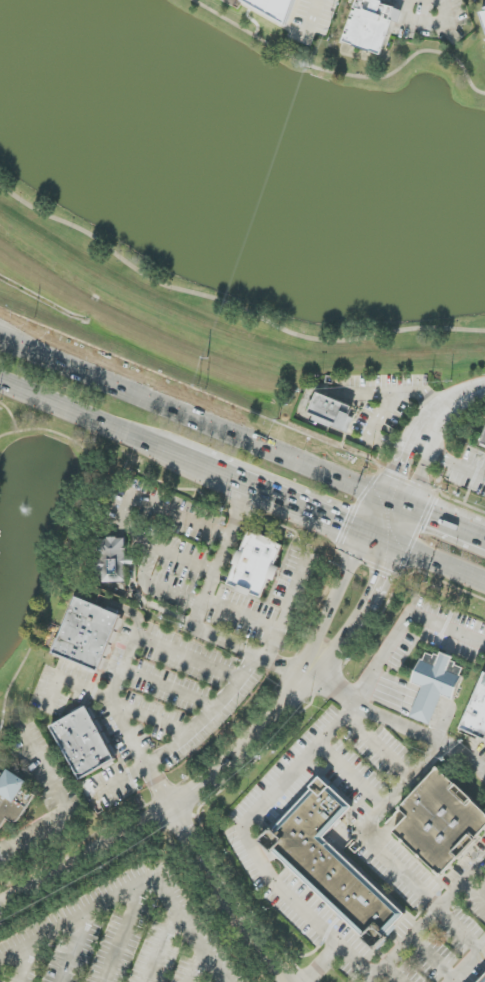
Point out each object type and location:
building: (274, 7)
road: (315, 12)
building: (483, 14)
road: (431, 21)
building: (371, 24)
road: (345, 74)
road: (230, 303)
road: (457, 395)
road: (386, 407)
building: (332, 412)
road: (192, 415)
road: (83, 418)
building: (483, 440)
road: (421, 447)
road: (405, 452)
road: (427, 462)
road: (458, 463)
road: (202, 468)
traffic signals: (397, 470)
road: (396, 501)
road: (302, 507)
road: (170, 510)
fountain: (25, 515)
road: (375, 515)
traffic signals: (435, 518)
traffic signals: (338, 522)
road: (446, 522)
road: (379, 539)
building: (113, 560)
road: (150, 562)
building: (257, 564)
road: (438, 564)
road: (384, 565)
traffic signals: (381, 575)
road: (292, 592)
road: (334, 601)
road: (201, 614)
road: (258, 620)
road: (406, 621)
building: (88, 635)
road: (156, 646)
road: (337, 650)
building: (435, 684)
road: (168, 689)
building: (476, 713)
road: (398, 722)
road: (127, 734)
road: (185, 736)
building: (83, 743)
road: (379, 745)
road: (410, 773)
building: (13, 797)
road: (64, 807)
road: (173, 814)
building: (441, 821)
road: (366, 825)
road: (250, 842)
building: (332, 864)
road: (133, 889)
road: (473, 892)
road: (230, 902)
road: (413, 932)
road: (118, 935)
road: (157, 940)
road: (477, 942)
road: (74, 948)
road: (433, 956)
road: (194, 960)
road: (22, 964)
road: (396, 971)
road: (370, 979)
road: (232, 980)
building: (483, 980)

